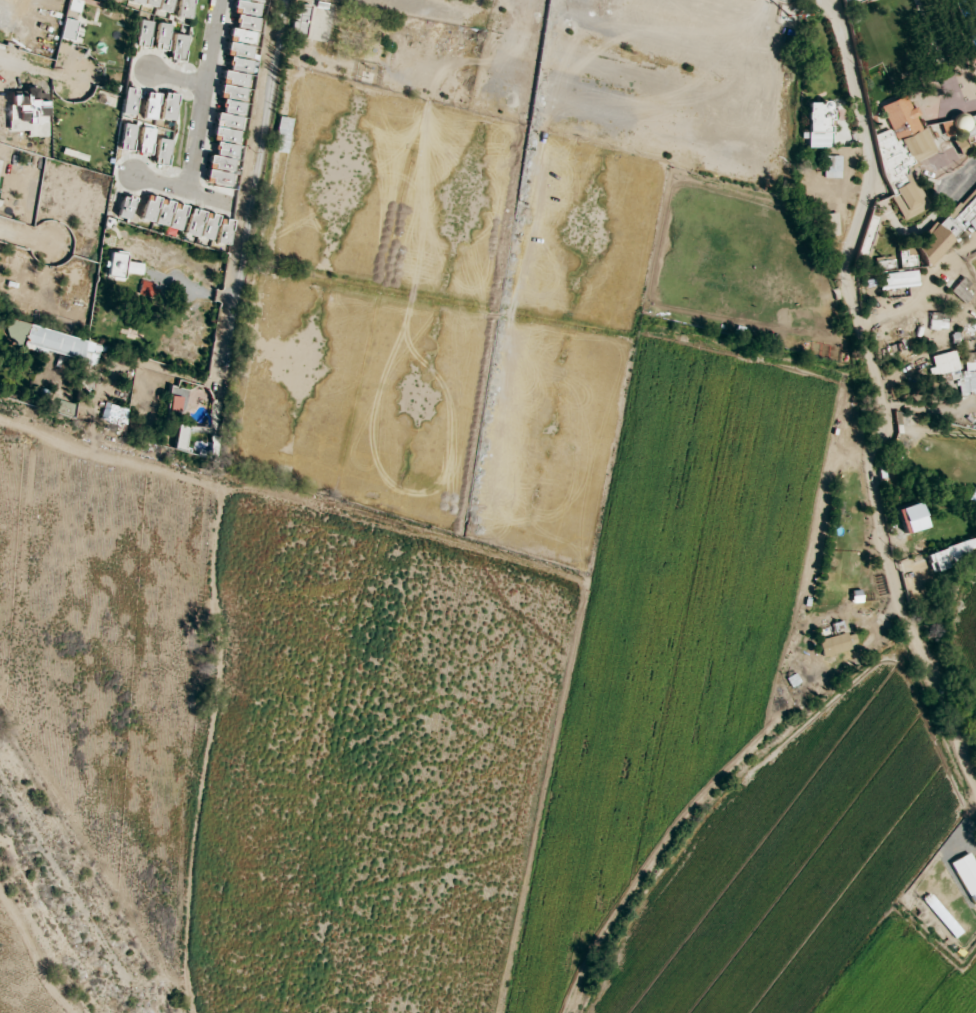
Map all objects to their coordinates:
building: (116, 0)
building: (850, 1)
building: (127, 2)
building: (141, 4)
building: (155, 6)
building: (174, 9)
road: (721, 11)
road: (654, 39)
road: (546, 47)
road: (29, 68)
road: (629, 70)
road: (740, 78)
road: (172, 81)
road: (312, 87)
road: (197, 96)
road: (603, 106)
building: (818, 127)
road: (171, 189)
road: (233, 222)
road: (920, 227)
road: (916, 290)
park: (451, 313)
road: (878, 396)
road: (928, 409)
road: (136, 466)
road: (815, 517)
crop: (675, 630)
crop: (967, 634)
building: (833, 646)
crop: (105, 650)
crop: (365, 767)
crop: (819, 876)
crop: (25, 971)

